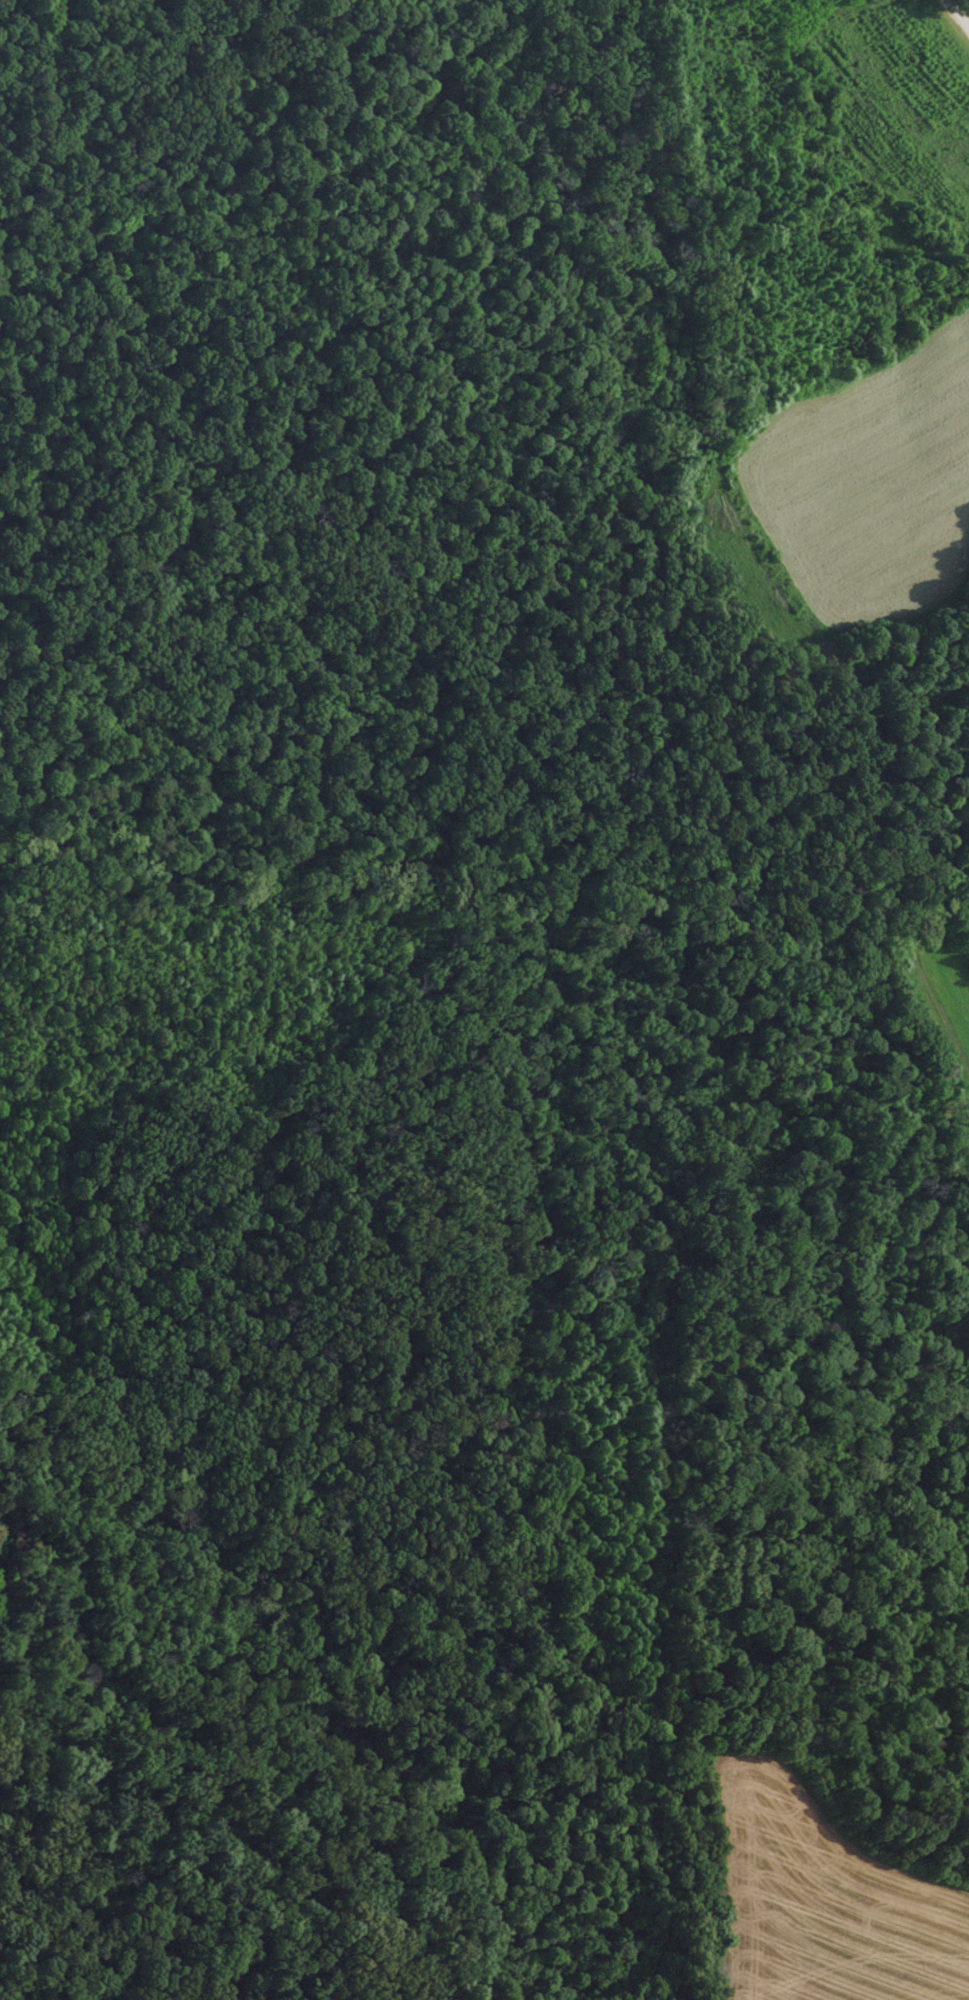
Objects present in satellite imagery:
road: (968, 0)

